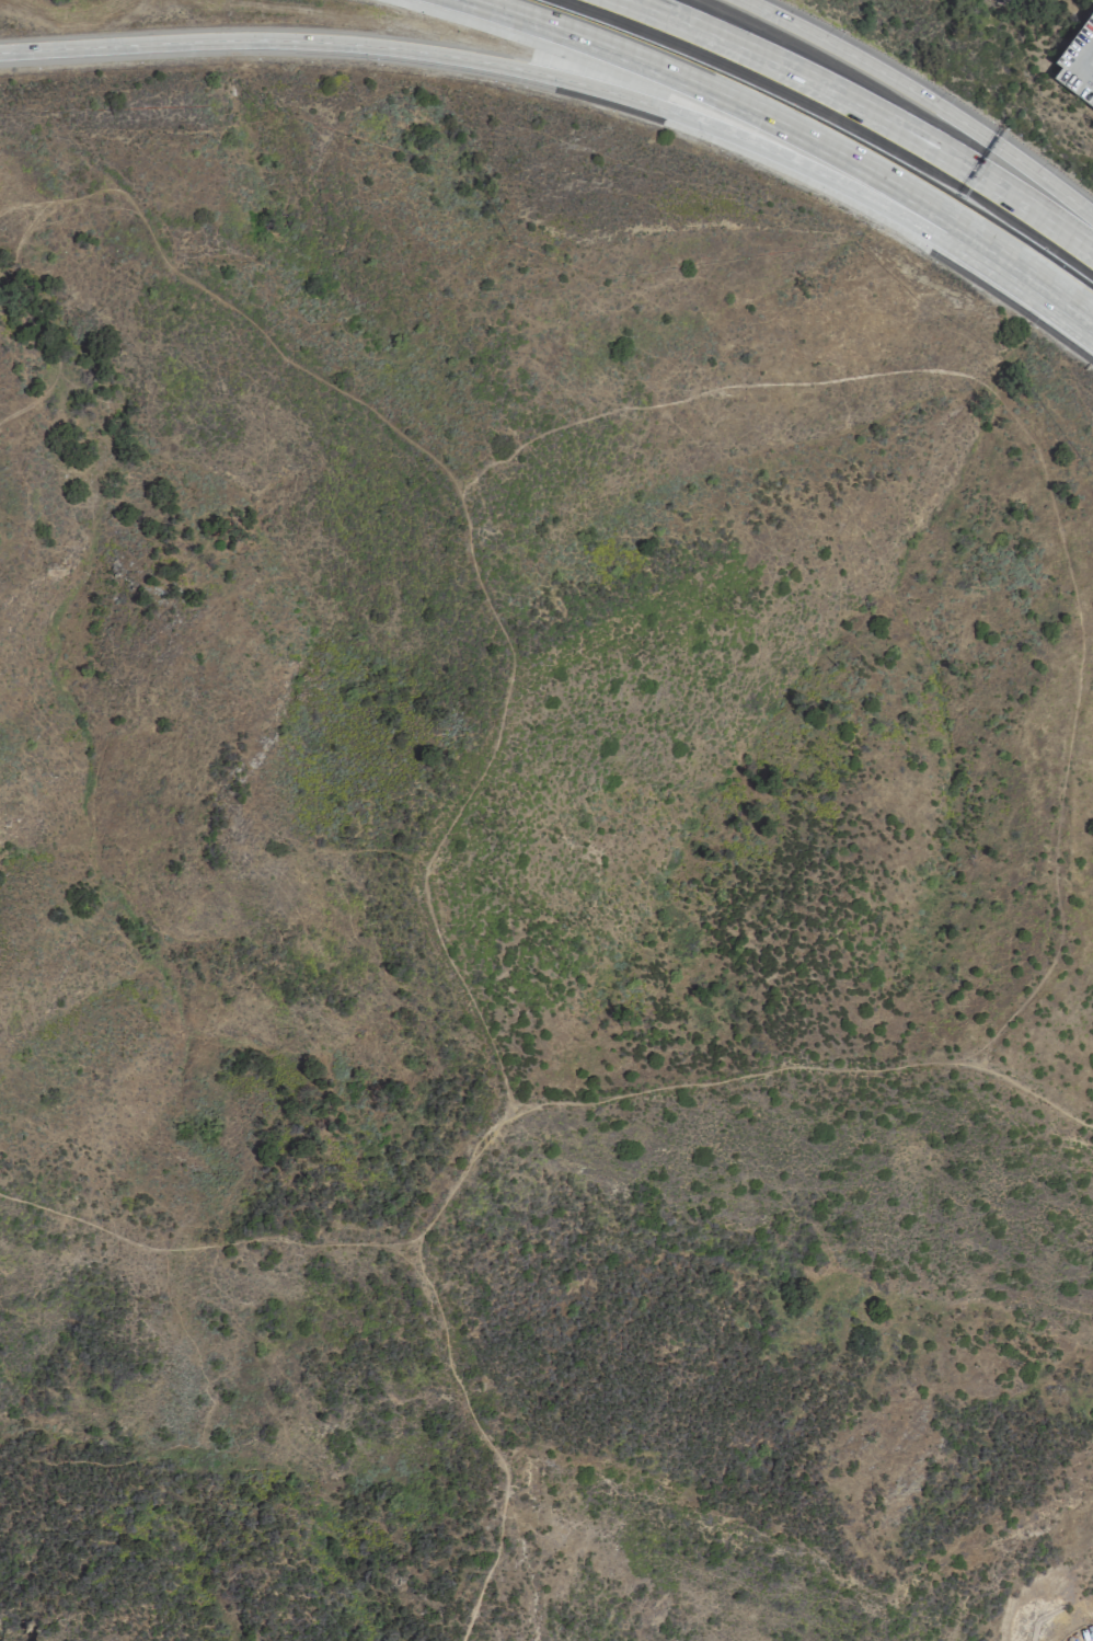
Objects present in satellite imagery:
road: (487, 61)
building: (1078, 61)
parking lot: (1078, 61)
road: (713, 95)
road: (924, 99)
road: (864, 112)
road: (1019, 278)
road: (711, 1081)
road: (402, 1255)
parking lot: (1082, 1636)

